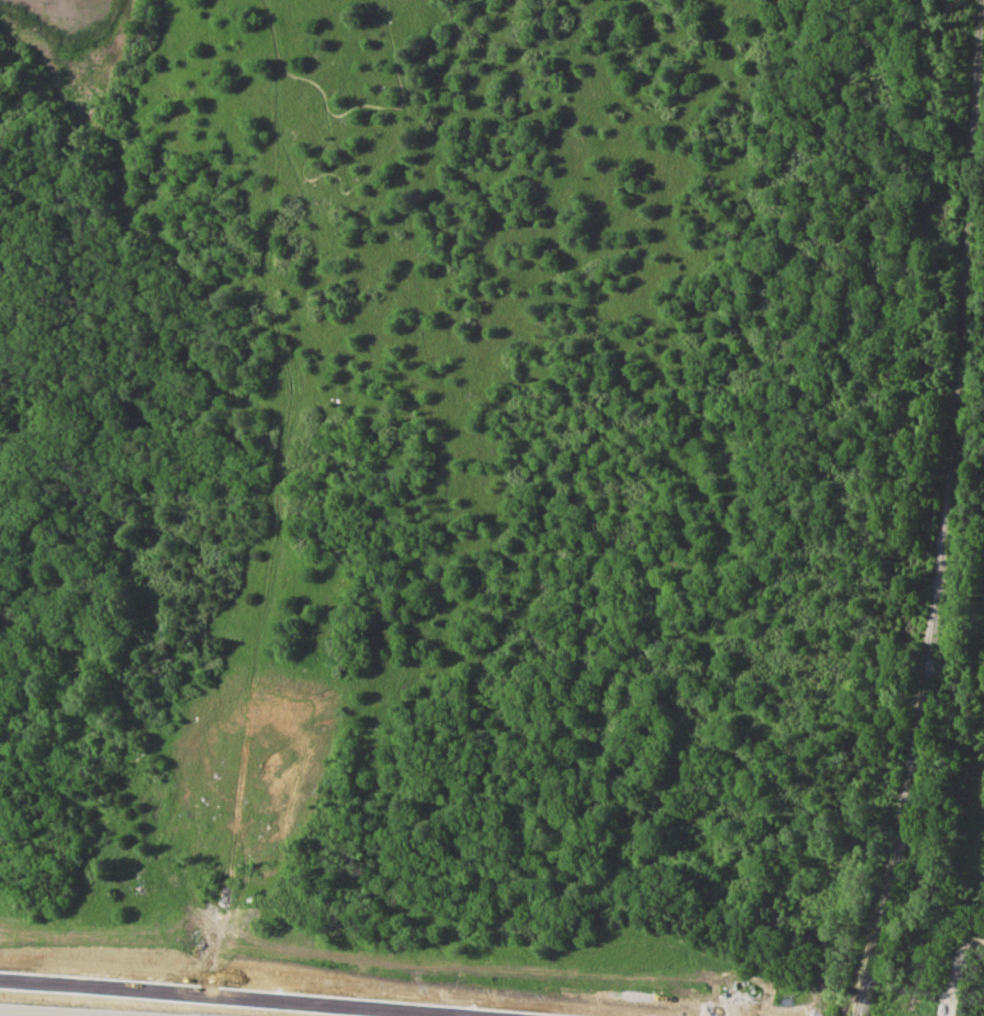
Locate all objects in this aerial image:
railway: (942, 511)
road: (52, 1013)

